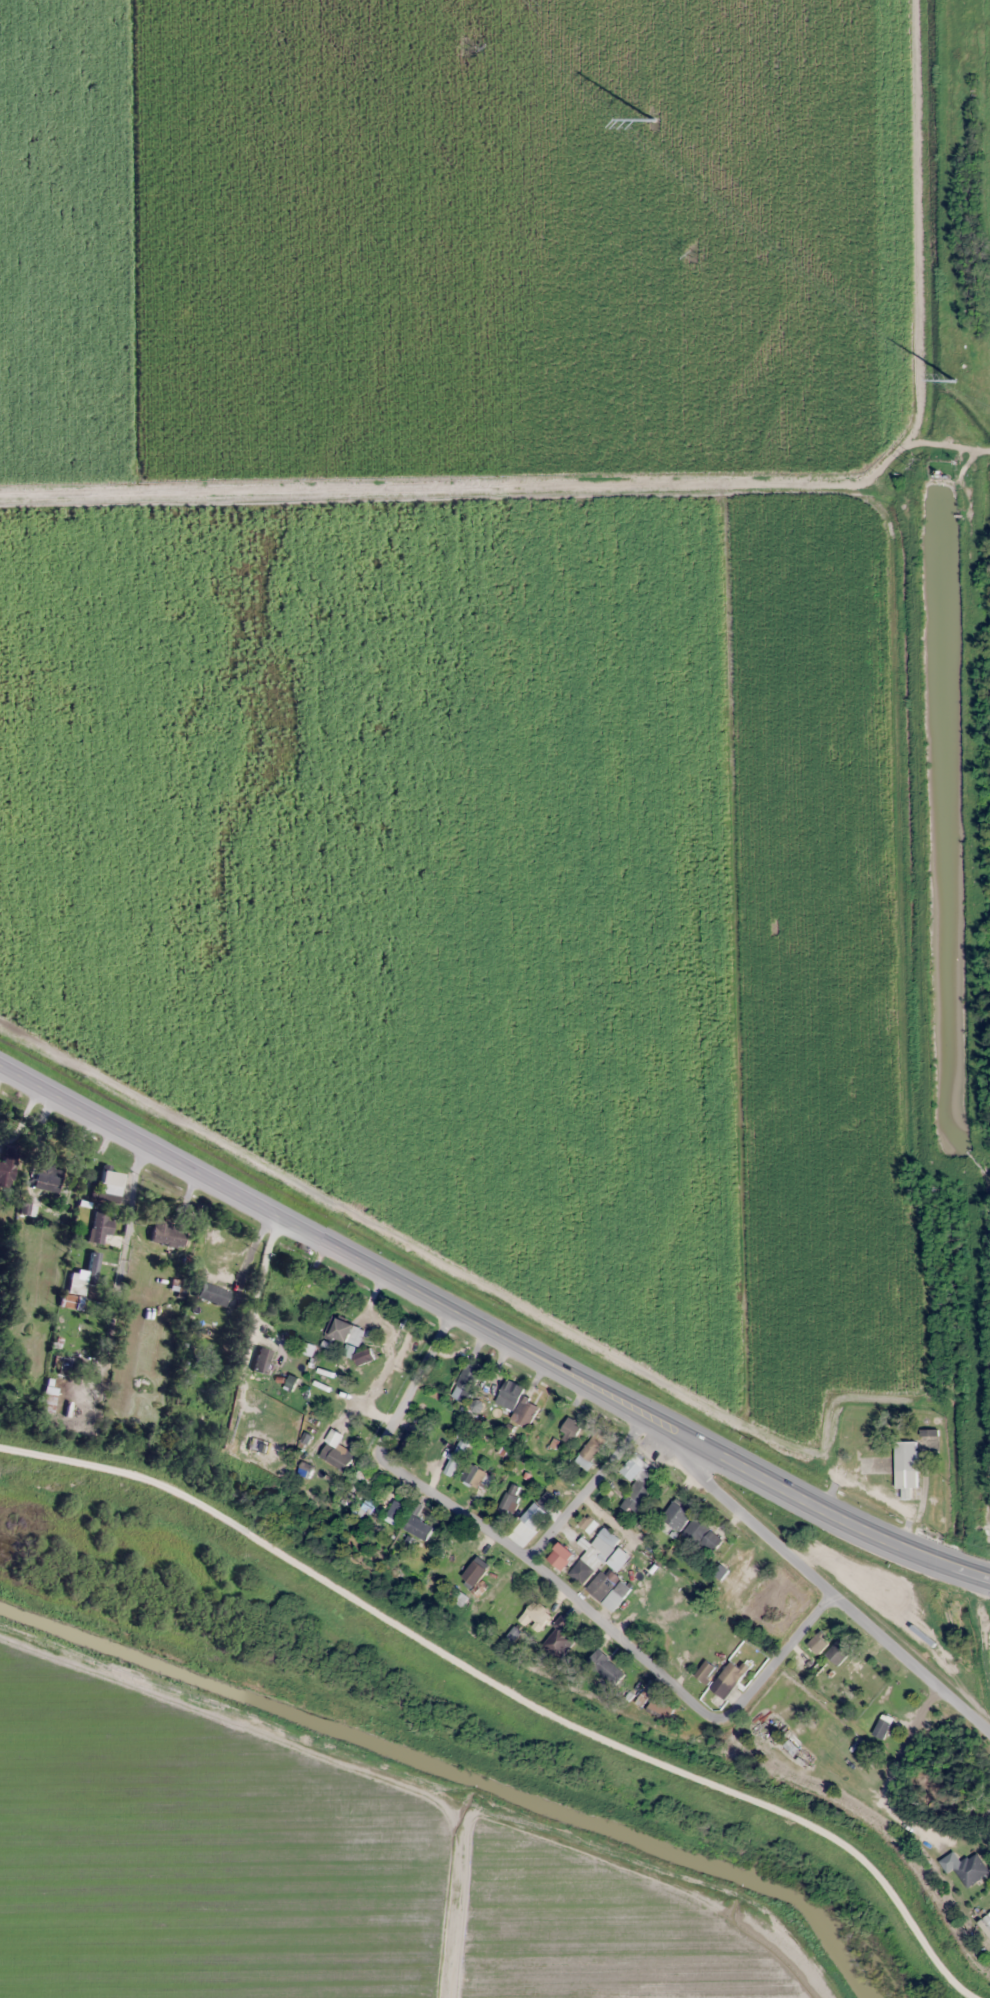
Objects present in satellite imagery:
power tower: (465, 45)
power tower: (652, 120)
power tower: (690, 253)
power tower: (954, 380)
power tower: (912, 462)
building: (10, 1167)
building: (48, 1176)
building: (109, 1185)
building: (101, 1227)
building: (168, 1234)
road: (352, 1253)
building: (93, 1263)
building: (302, 1289)
building: (212, 1293)
building: (71, 1301)
building: (344, 1331)
building: (262, 1360)
building: (61, 1365)
building: (222, 1374)
building: (468, 1378)
building: (290, 1383)
building: (508, 1395)
building: (49, 1396)
building: (525, 1412)
building: (202, 1418)
building: (569, 1431)
building: (866, 1442)
building: (591, 1449)
building: (335, 1452)
building: (905, 1469)
building: (476, 1477)
building: (637, 1483)
road: (586, 1486)
building: (663, 1495)
building: (509, 1498)
building: (537, 1509)
building: (677, 1514)
road: (844, 1517)
building: (417, 1528)
building: (702, 1535)
building: (560, 1556)
building: (593, 1556)
building: (617, 1560)
building: (475, 1571)
road: (555, 1585)
building: (608, 1589)
building: (456, 1596)
road: (833, 1596)
building: (509, 1612)
building: (534, 1615)
building: (558, 1639)
building: (818, 1643)
building: (837, 1653)
building: (605, 1666)
building: (704, 1671)
building: (727, 1679)
building: (659, 1708)
building: (882, 1726)
building: (970, 1869)

